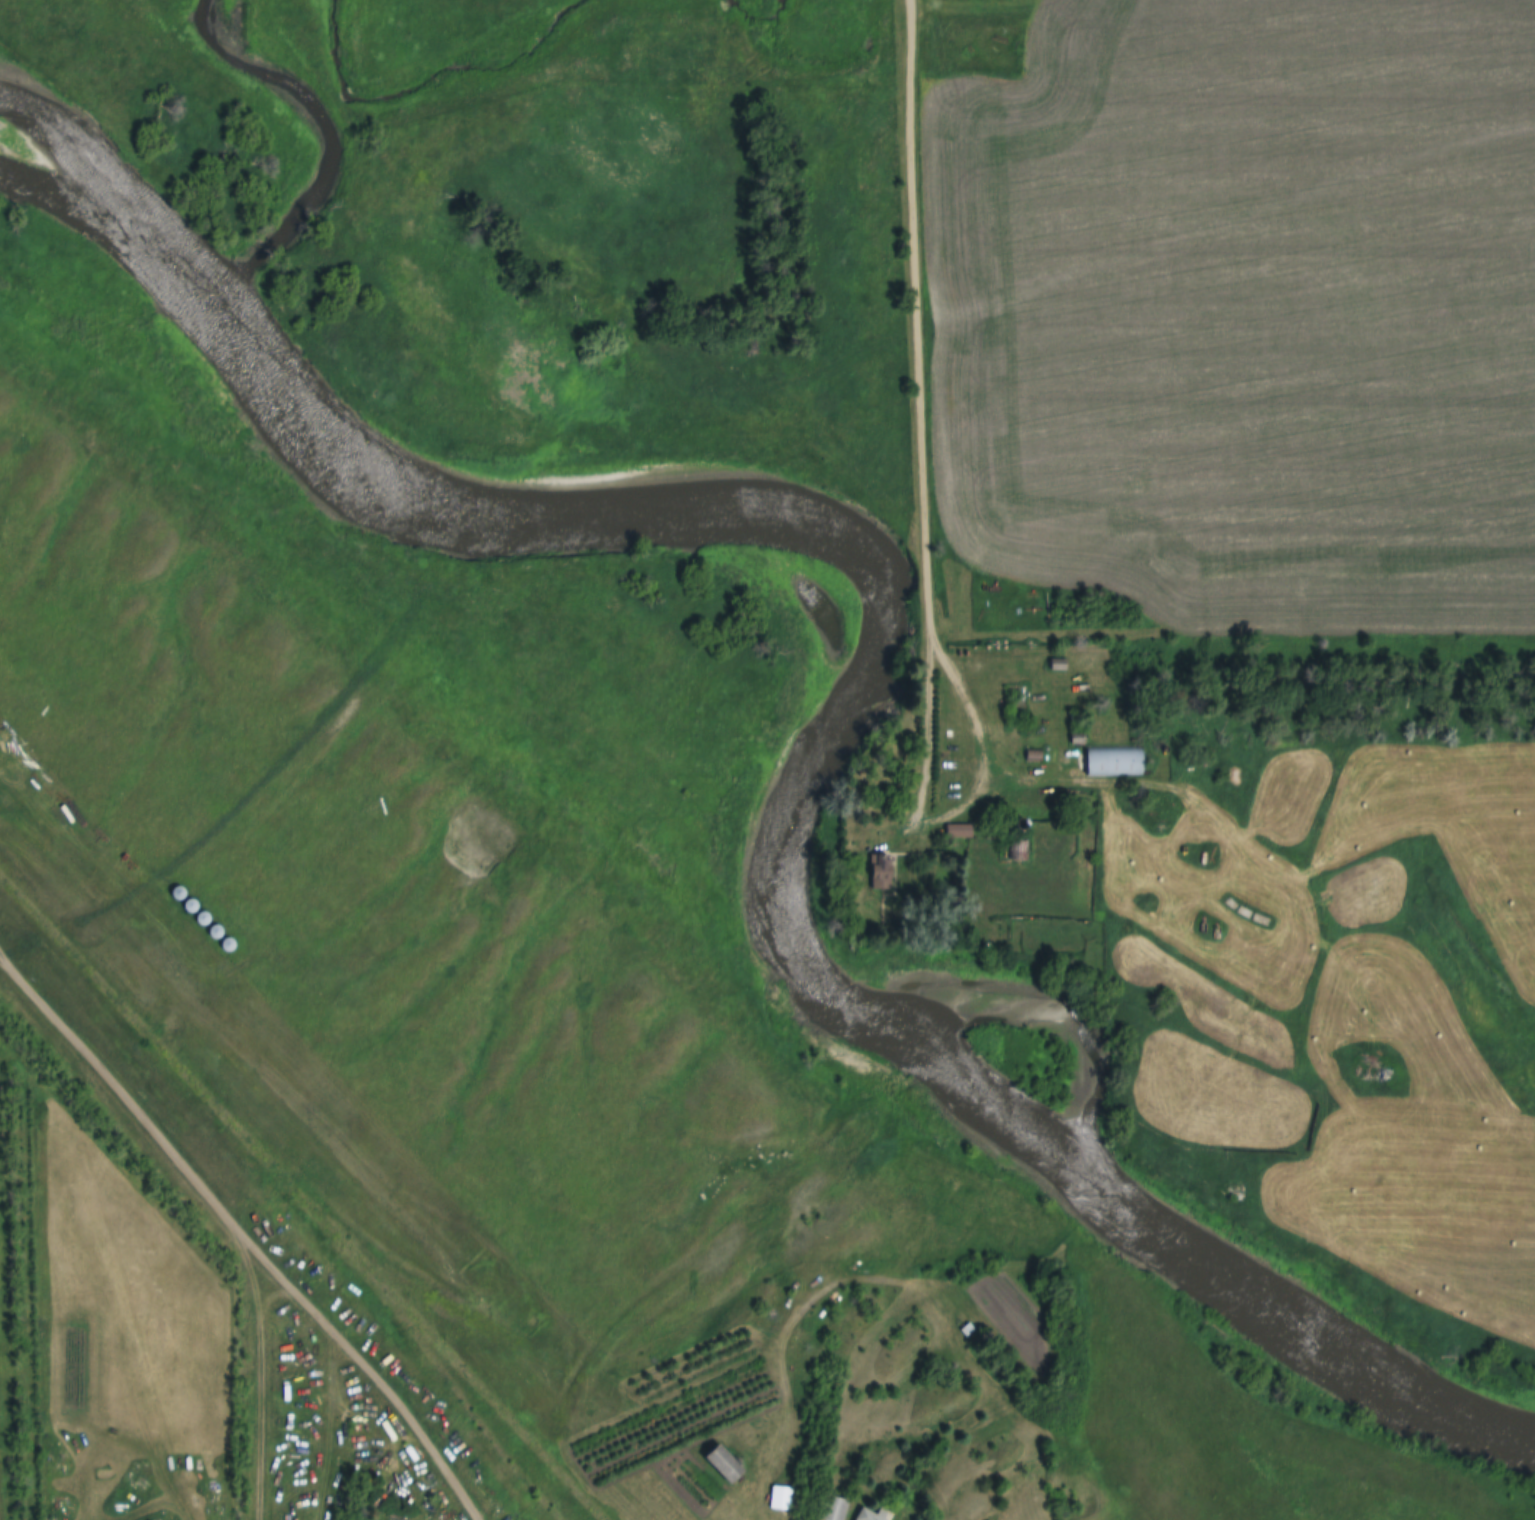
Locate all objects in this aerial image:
road: (916, 315)
building: (1058, 665)
river: (863, 673)
building: (1078, 721)
building: (1078, 740)
building: (1033, 757)
building: (1115, 763)
road: (945, 813)
building: (1020, 825)
silo: (1020, 825)
building: (960, 832)
building: (1018, 850)
building: (881, 873)
building: (177, 895)
silo: (177, 895)
building: (189, 908)
silo: (189, 908)
building: (201, 920)
silo: (201, 920)
building: (214, 934)
silo: (214, 934)
building: (226, 947)
silo: (226, 947)
railway: (307, 1196)
road: (245, 1242)
building: (967, 1332)
road: (251, 1383)
building: (312, 1396)
building: (725, 1466)
building: (781, 1499)
building: (836, 1508)
building: (875, 1515)
building: (392, 1517)

